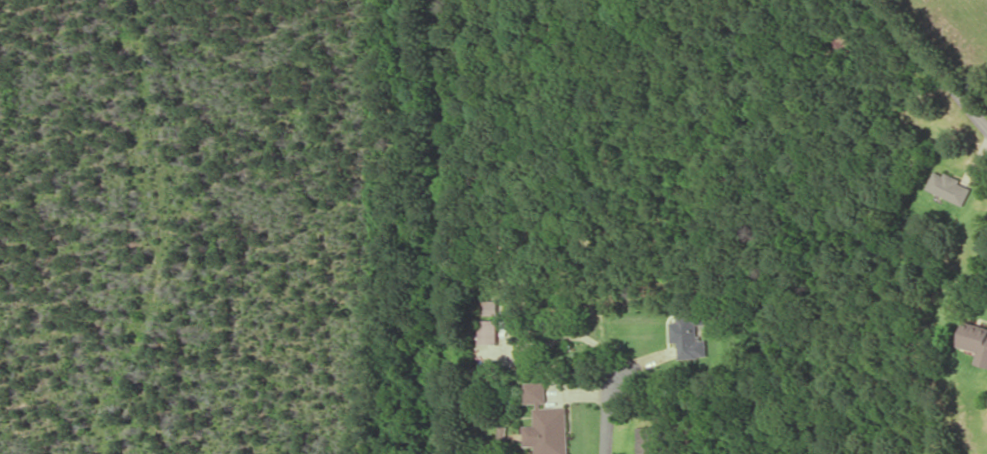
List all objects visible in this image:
road: (929, 63)
building: (949, 187)
building: (489, 306)
building: (689, 337)
building: (976, 339)
road: (611, 415)
building: (546, 422)
building: (647, 439)

